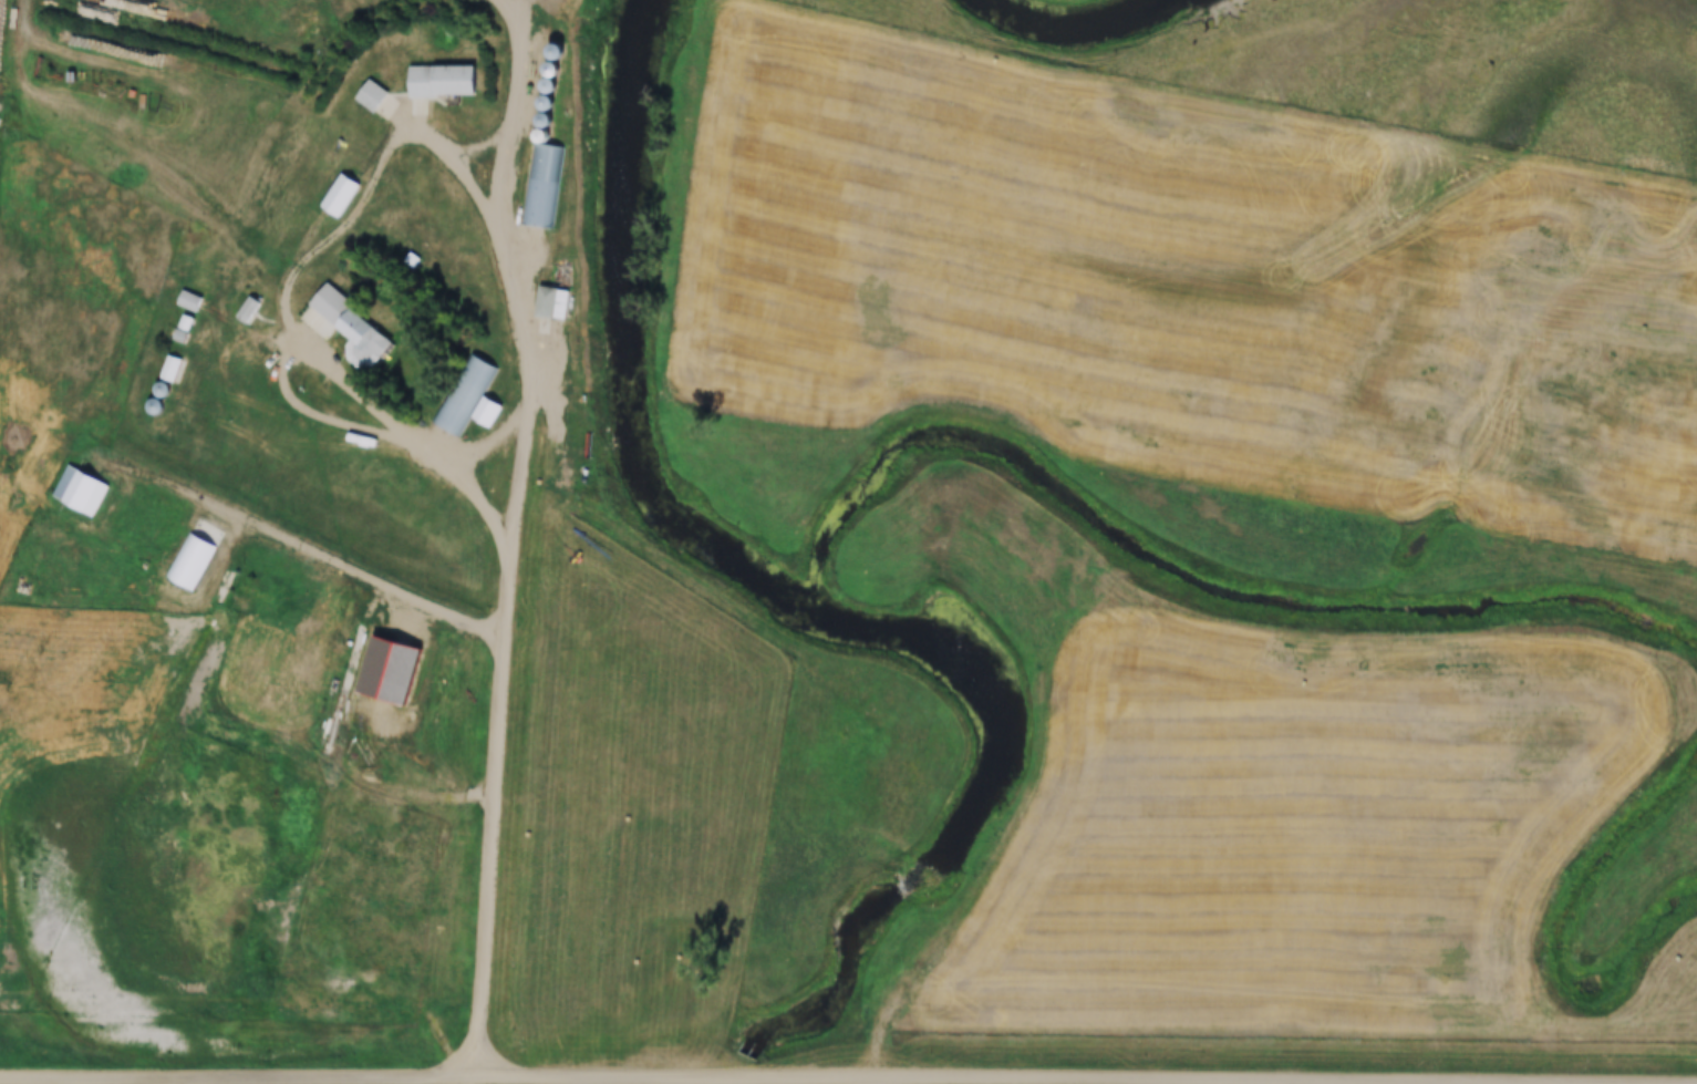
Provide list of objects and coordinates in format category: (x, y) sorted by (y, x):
building: (553, 48)
building: (439, 83)
building: (376, 99)
road: (138, 154)
building: (541, 186)
building: (340, 195)
road: (290, 300)
building: (195, 301)
building: (552, 303)
building: (247, 309)
building: (337, 318)
building: (170, 368)
building: (467, 396)
building: (81, 489)
road: (238, 516)
road: (518, 534)
building: (189, 560)
road: (333, 767)
road: (878, 1044)
road: (659, 1080)
road: (901, 1083)

